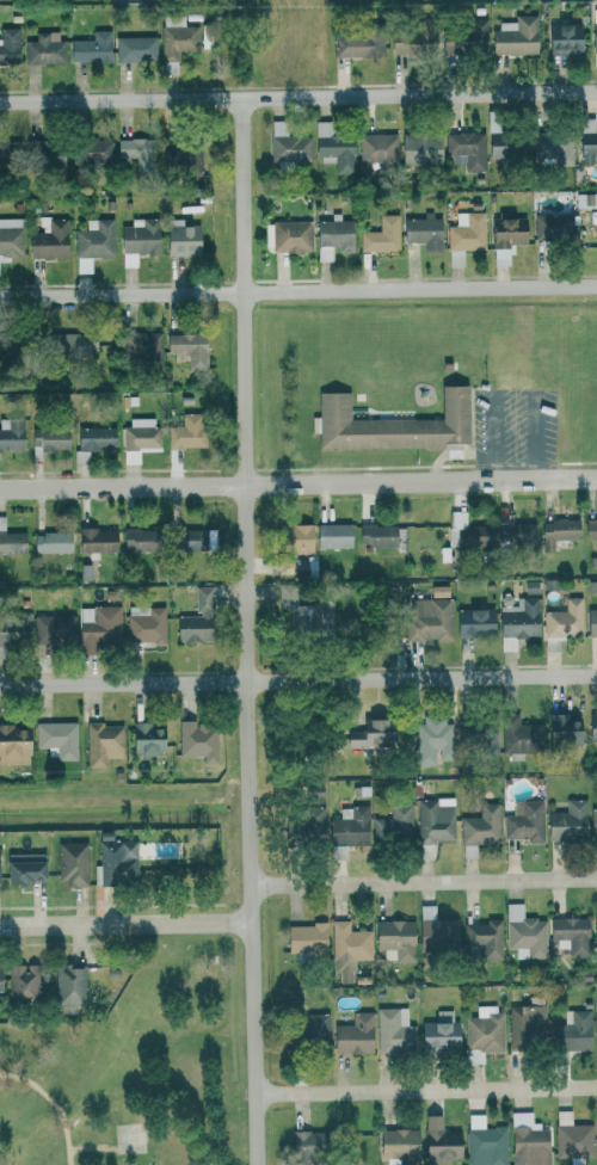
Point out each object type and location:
building: (515, 35)
building: (177, 36)
building: (472, 36)
building: (417, 37)
building: (593, 37)
building: (562, 38)
building: (8, 44)
building: (356, 44)
building: (45, 48)
building: (91, 48)
building: (135, 48)
road: (298, 95)
building: (586, 141)
building: (288, 144)
building: (553, 146)
building: (333, 147)
building: (467, 148)
building: (506, 148)
building: (378, 149)
building: (420, 149)
building: (93, 150)
building: (134, 153)
building: (6, 154)
building: (44, 154)
building: (181, 159)
building: (553, 228)
building: (423, 230)
building: (467, 230)
building: (288, 235)
building: (381, 235)
building: (11, 236)
building: (333, 238)
building: (506, 238)
building: (180, 239)
building: (49, 240)
building: (137, 240)
building: (93, 242)
road: (298, 290)
building: (70, 344)
building: (141, 347)
building: (189, 347)
building: (392, 424)
building: (186, 431)
building: (12, 433)
building: (139, 436)
building: (92, 440)
road: (297, 481)
building: (461, 529)
building: (513, 530)
building: (590, 530)
building: (558, 531)
building: (378, 534)
building: (333, 535)
building: (96, 538)
building: (136, 538)
building: (191, 538)
building: (11, 540)
building: (50, 542)
building: (291, 542)
building: (437, 591)
building: (202, 598)
building: (303, 611)
building: (429, 618)
building: (564, 618)
building: (517, 620)
building: (473, 621)
building: (591, 622)
building: (144, 623)
building: (97, 625)
building: (14, 627)
building: (192, 627)
building: (53, 629)
road: (247, 631)
road: (298, 679)
building: (592, 727)
building: (560, 728)
building: (370, 734)
building: (519, 735)
building: (476, 736)
building: (56, 738)
building: (146, 738)
building: (197, 739)
building: (432, 739)
building: (103, 742)
building: (13, 744)
building: (524, 820)
building: (567, 821)
building: (433, 822)
building: (307, 824)
building: (394, 824)
building: (593, 824)
building: (481, 825)
building: (347, 830)
building: (72, 862)
building: (117, 862)
building: (23, 867)
road: (442, 880)
road: (269, 883)
road: (240, 921)
road: (113, 923)
building: (436, 930)
building: (524, 932)
building: (595, 932)
building: (485, 937)
building: (306, 938)
building: (393, 938)
building: (347, 948)
building: (21, 981)
building: (69, 987)
building: (527, 1021)
building: (394, 1031)
building: (439, 1031)
building: (572, 1031)
building: (596, 1031)
building: (482, 1033)
building: (353, 1034)
park: (129, 1072)
road: (1, 1079)
road: (426, 1089)
road: (54, 1103)
park: (130, 1136)
building: (572, 1138)
building: (528, 1140)
building: (398, 1142)
building: (485, 1142)
building: (439, 1144)
building: (303, 1145)
road: (92, 1146)

